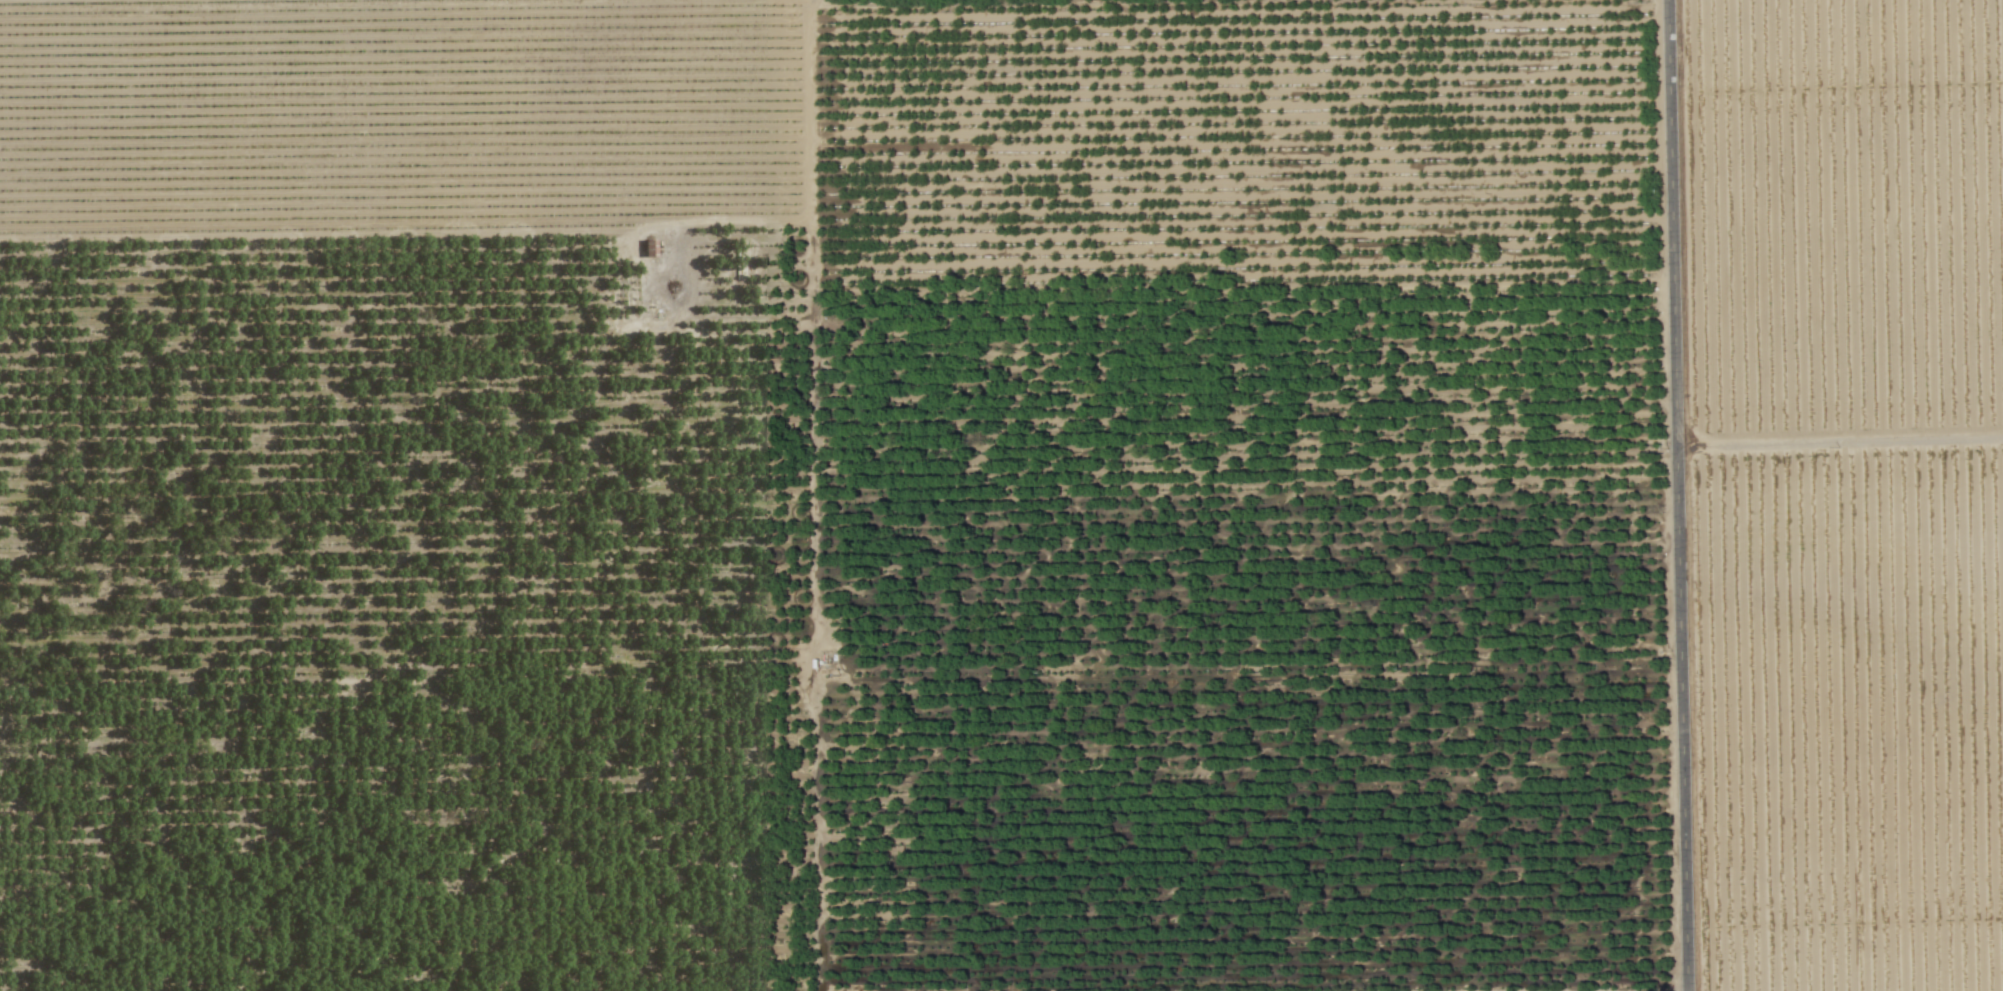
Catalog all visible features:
road: (807, 170)
road: (640, 258)
road: (1840, 441)
road: (1678, 495)

